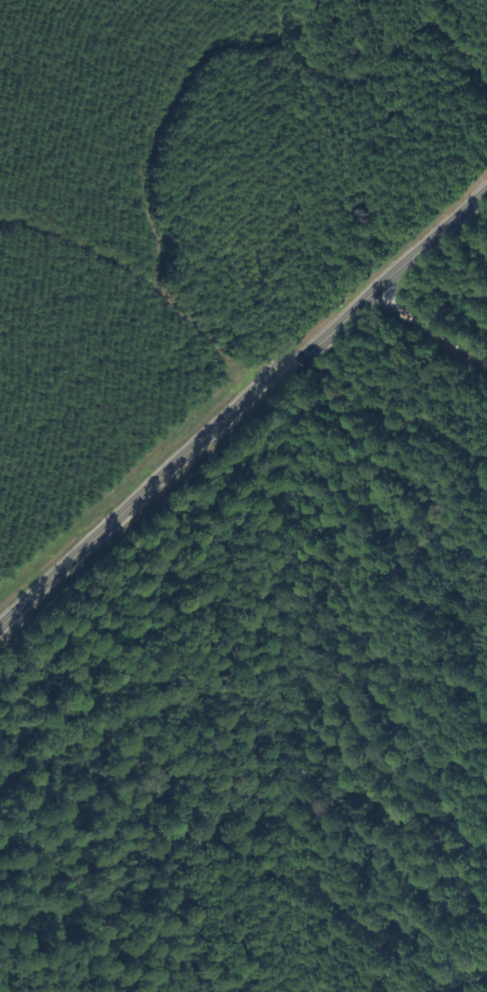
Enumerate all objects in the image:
road: (141, 271)
road: (430, 330)
road: (243, 411)

